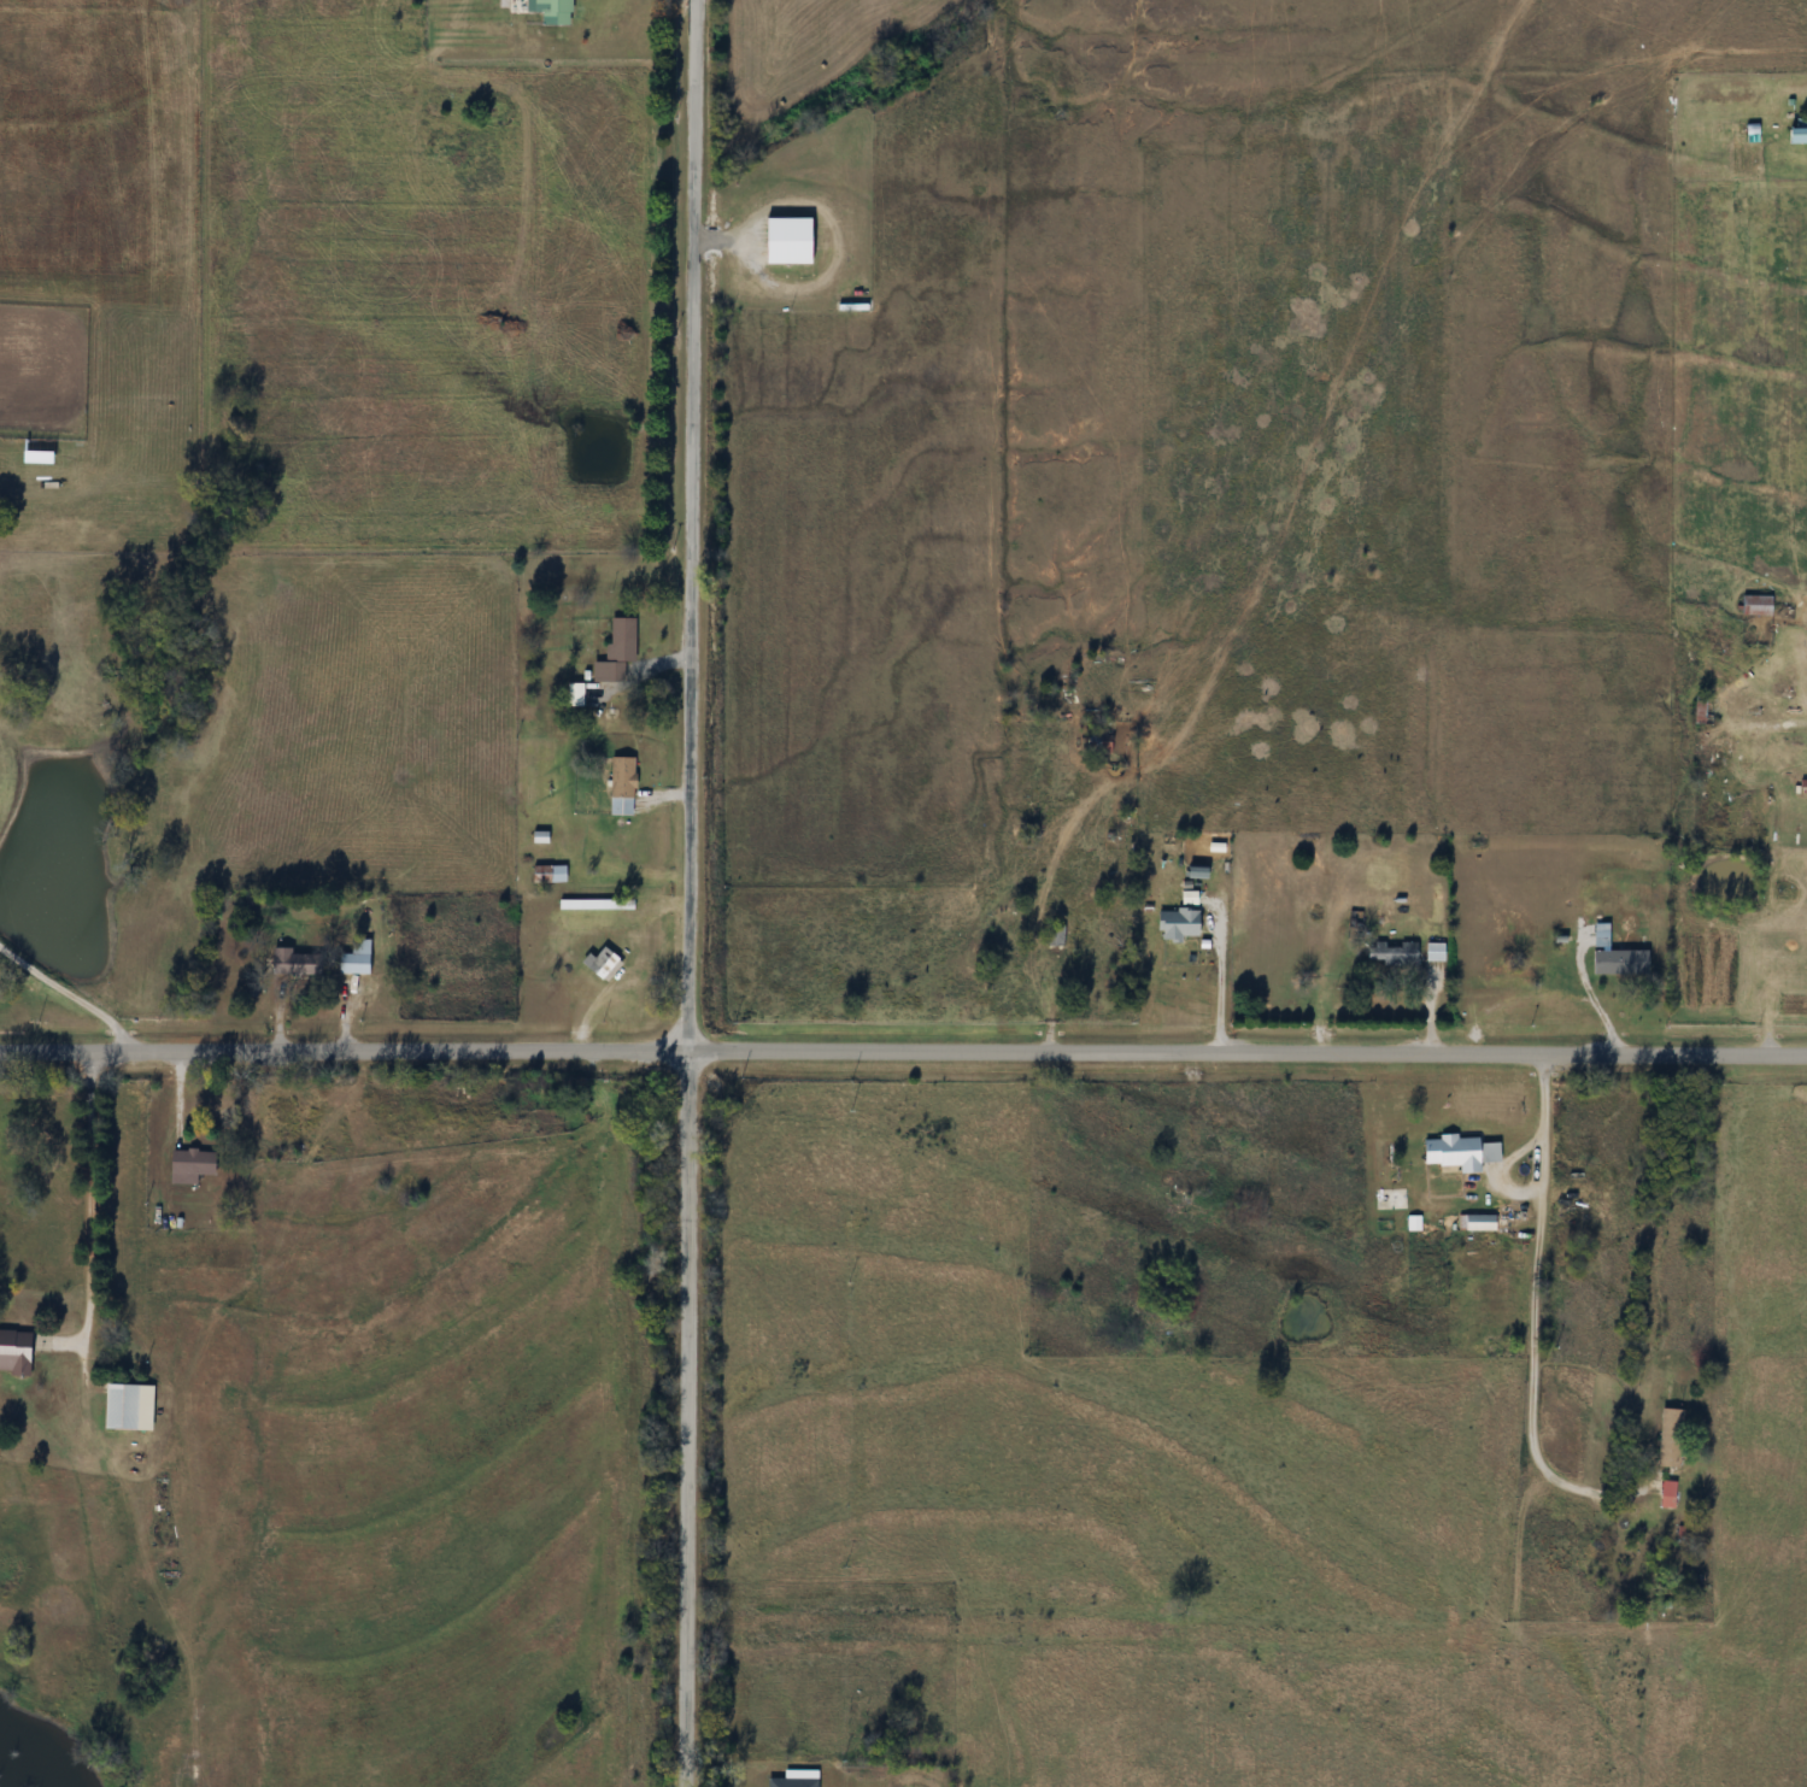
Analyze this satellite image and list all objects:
building: (552, 11)
building: (1800, 130)
building: (790, 240)
road: (693, 529)
building: (1758, 605)
building: (617, 651)
building: (1701, 710)
building: (1101, 741)
building: (623, 784)
building: (550, 874)
building: (597, 904)
building: (1199, 927)
building: (1055, 935)
building: (1169, 942)
building: (1436, 951)
building: (1394, 953)
building: (357, 959)
building: (298, 963)
building: (602, 963)
building: (1621, 963)
building: (1518, 975)
road: (903, 1057)
road: (954, 1104)
building: (1461, 1152)
building: (192, 1165)
building: (1185, 1180)
road: (95, 1217)
building: (1477, 1222)
road: (1538, 1323)
building: (16, 1352)
building: (129, 1407)
road: (691, 1422)
building: (1671, 1438)
building: (1668, 1494)
building: (794, 1781)

